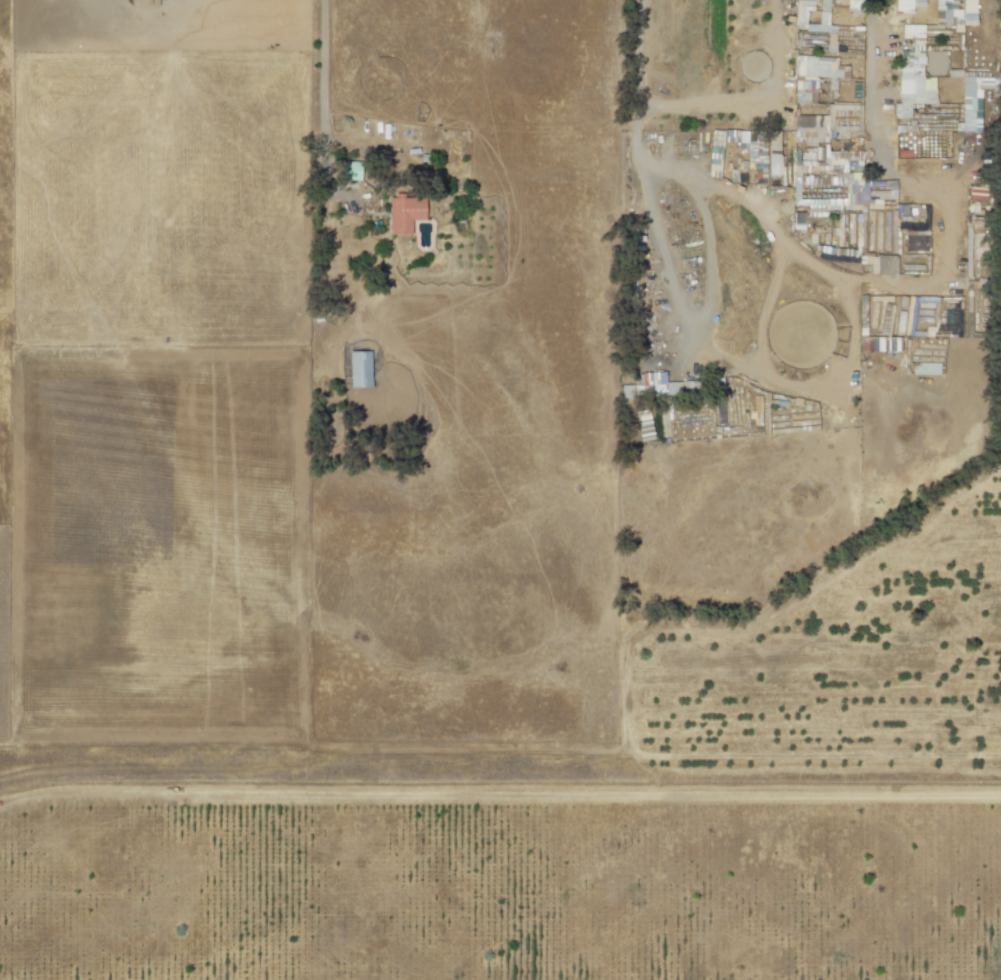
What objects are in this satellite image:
building: (859, 0)
building: (849, 1)
building: (144, 3)
building: (906, 5)
building: (801, 11)
building: (955, 16)
building: (821, 21)
building: (911, 31)
building: (816, 69)
building: (911, 85)
building: (802, 91)
road: (752, 102)
building: (969, 103)
road: (325, 122)
building: (772, 148)
building: (402, 215)
building: (916, 242)
road: (845, 276)
building: (870, 344)
road: (728, 362)
building: (358, 369)
road: (758, 624)

